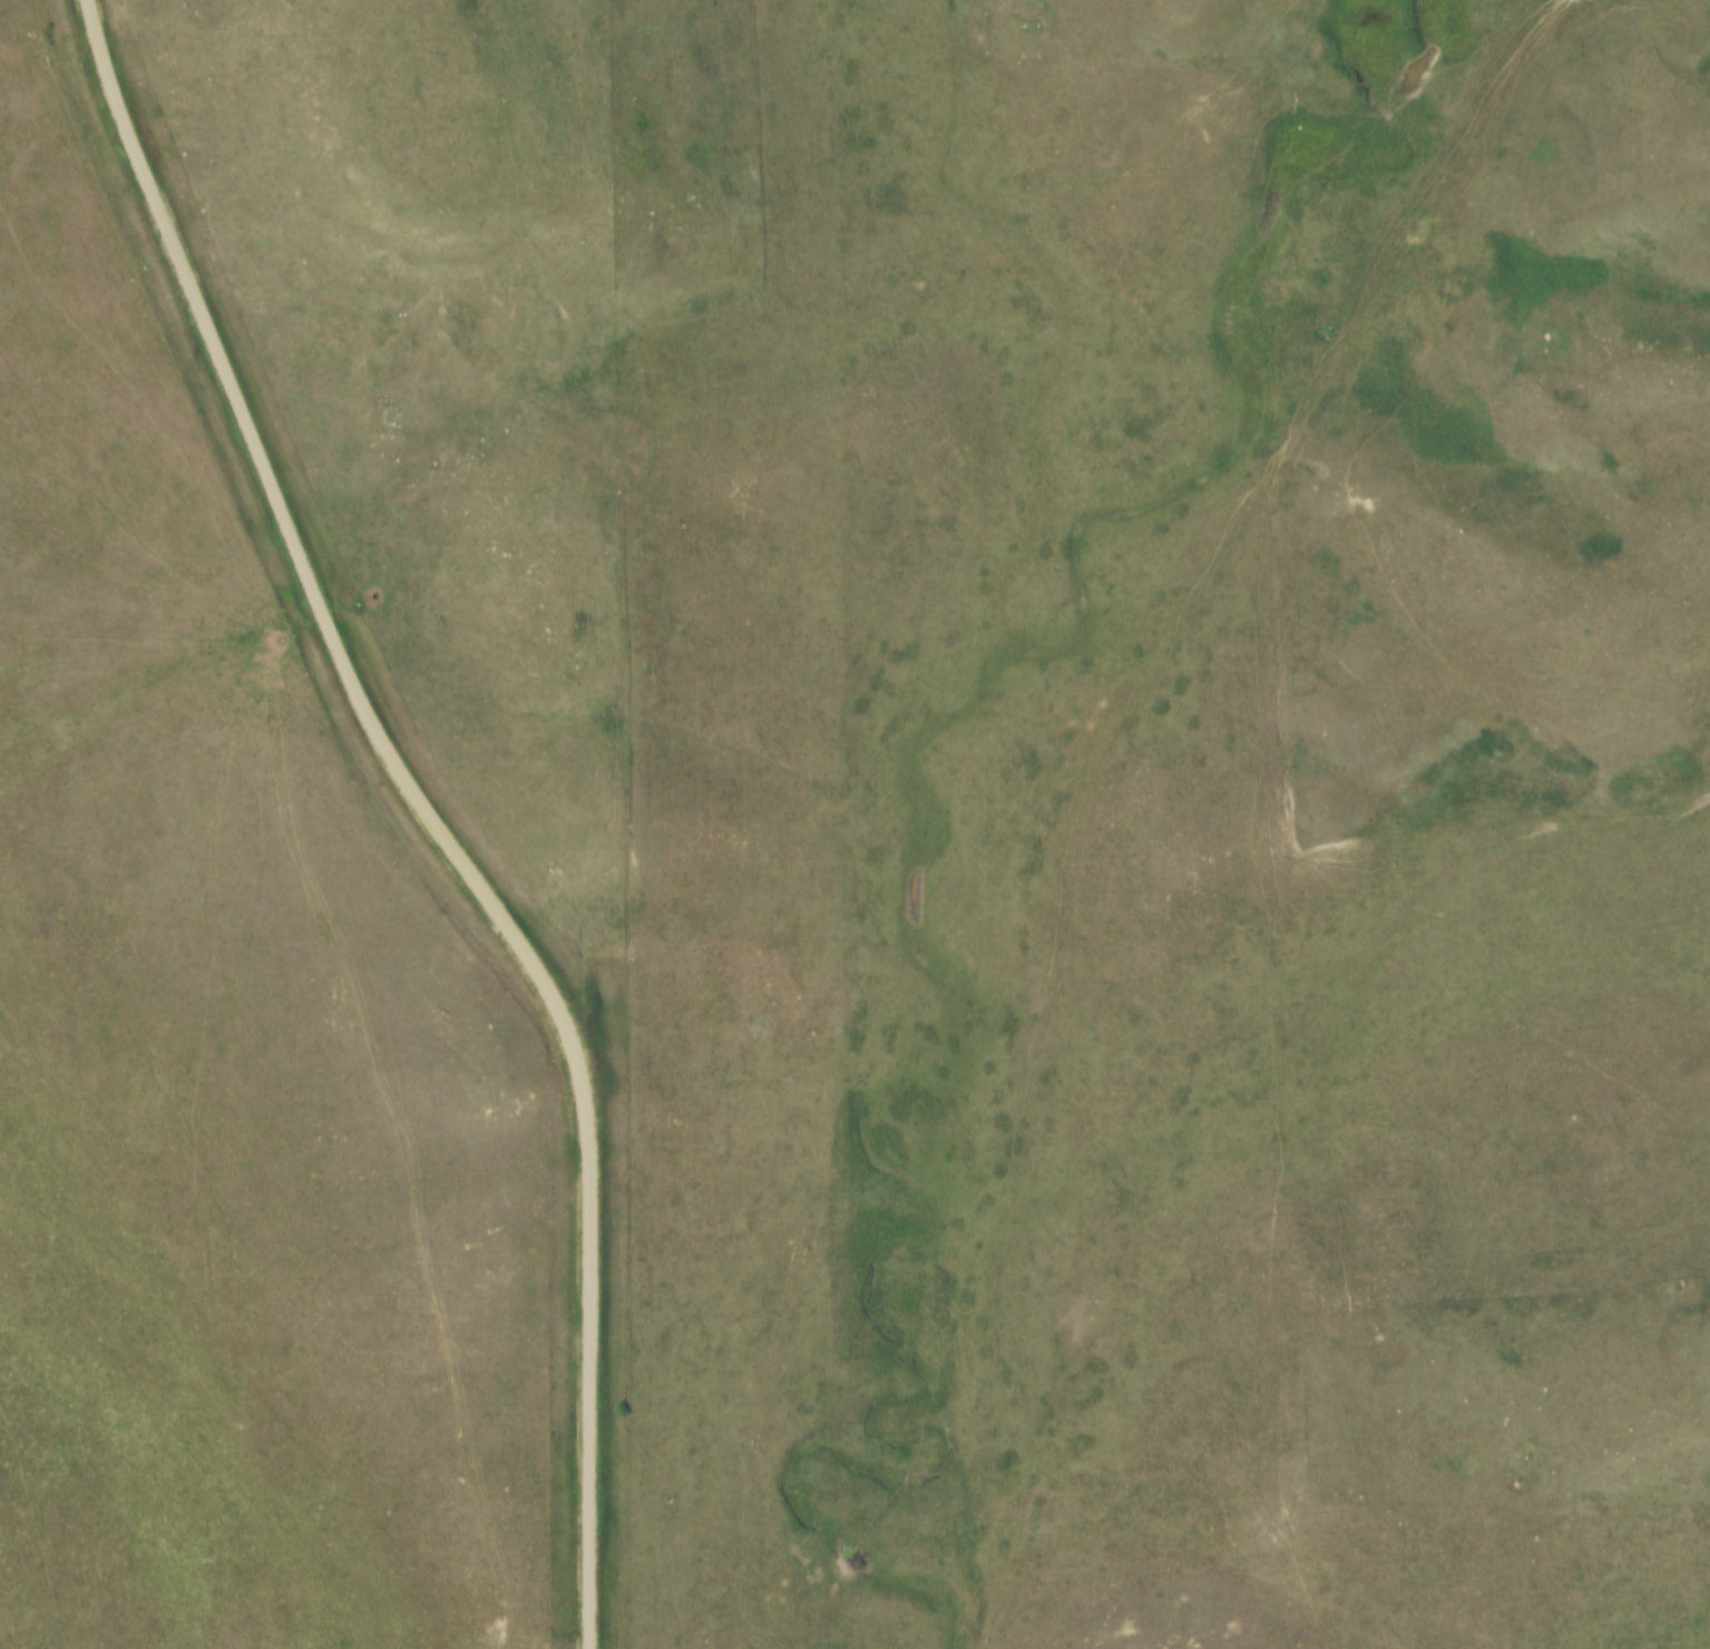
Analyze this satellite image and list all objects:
road: (424, 813)

